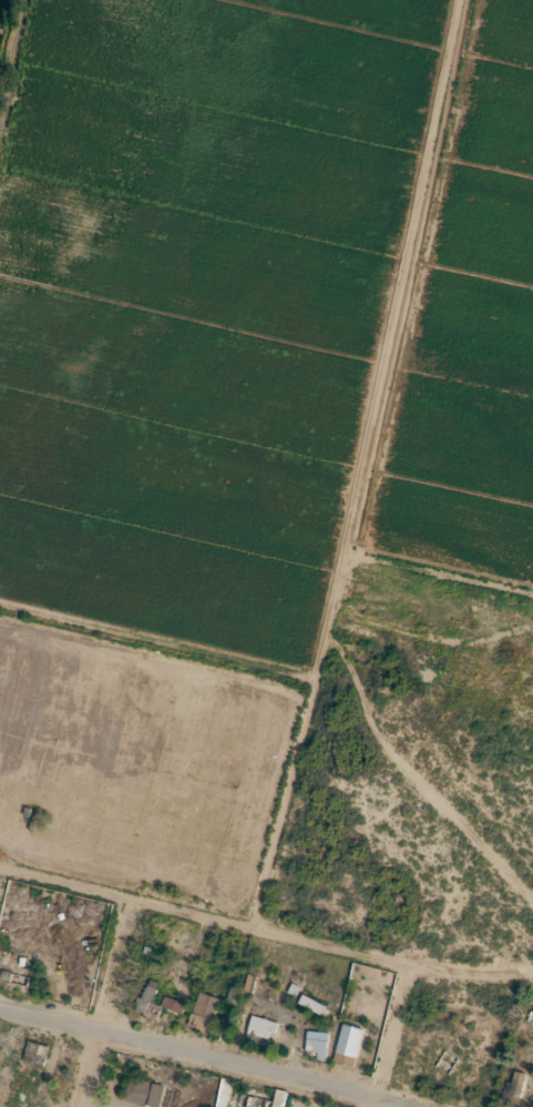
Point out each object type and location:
road: (264, 942)
road: (94, 1006)
road: (380, 1039)
road: (181, 1063)

